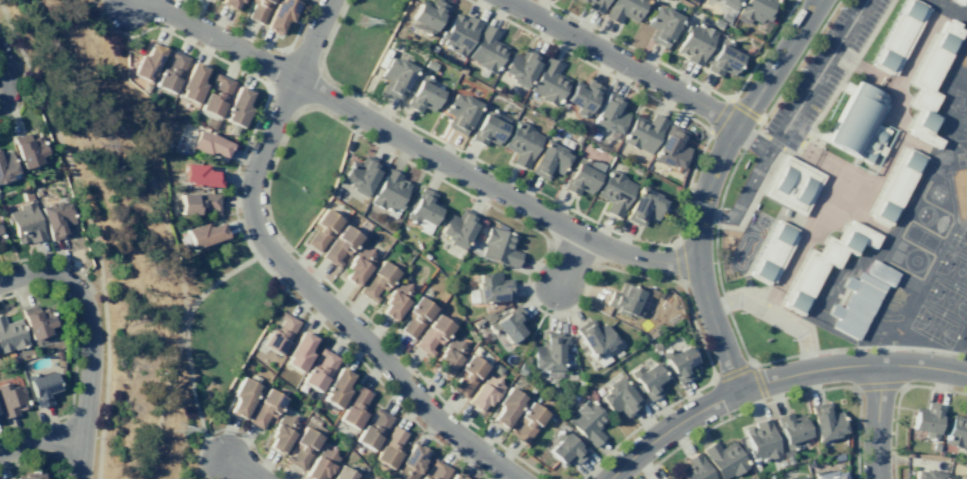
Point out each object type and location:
building: (584, 0)
building: (664, 0)
road: (795, 0)
building: (966, 0)
building: (693, 1)
building: (957, 2)
building: (229, 3)
building: (728, 3)
building: (596, 5)
building: (756, 9)
building: (258, 10)
building: (624, 10)
building: (280, 14)
building: (426, 16)
building: (724, 17)
power tower: (360, 20)
building: (717, 23)
building: (662, 25)
building: (458, 34)
building: (899, 36)
park: (360, 39)
road: (256, 40)
building: (695, 43)
building: (486, 50)
building: (724, 59)
road: (622, 61)
building: (147, 62)
road: (15, 63)
building: (429, 64)
building: (521, 66)
building: (171, 71)
building: (395, 76)
road: (687, 76)
road: (817, 76)
road: (7, 81)
building: (548, 82)
building: (928, 82)
building: (192, 83)
building: (424, 94)
building: (216, 95)
building: (583, 97)
building: (237, 107)
building: (460, 111)
road: (745, 111)
building: (609, 114)
road: (721, 117)
building: (856, 124)
building: (488, 127)
building: (643, 132)
building: (208, 143)
road: (407, 143)
building: (521, 143)
road: (775, 143)
building: (671, 146)
building: (29, 150)
road: (275, 157)
building: (549, 159)
building: (7, 166)
park: (304, 173)
building: (361, 174)
building: (199, 175)
building: (582, 175)
road: (751, 181)
road: (706, 184)
building: (792, 184)
building: (894, 185)
building: (335, 192)
building: (389, 192)
building: (614, 192)
building: (197, 203)
building: (643, 206)
building: (422, 210)
building: (56, 219)
building: (25, 223)
road: (163, 225)
road: (238, 226)
building: (458, 227)
building: (321, 229)
road: (93, 231)
building: (204, 234)
building: (0, 238)
road: (633, 238)
building: (339, 245)
building: (499, 246)
building: (772, 253)
road: (569, 261)
building: (822, 263)
road: (679, 264)
building: (357, 266)
road: (293, 273)
building: (879, 273)
road: (717, 276)
building: (376, 281)
building: (493, 287)
road: (583, 299)
building: (396, 300)
building: (624, 300)
building: (855, 304)
building: (415, 316)
road: (773, 316)
building: (38, 321)
building: (476, 323)
building: (505, 323)
road: (184, 331)
building: (279, 334)
building: (12, 335)
building: (431, 335)
building: (594, 337)
road: (91, 341)
building: (298, 351)
park: (966, 352)
building: (58, 354)
building: (549, 354)
road: (75, 357)
building: (448, 357)
road: (709, 359)
building: (678, 363)
building: (521, 368)
building: (319, 371)
road: (734, 373)
building: (466, 376)
road: (774, 378)
building: (648, 381)
road: (760, 384)
road: (878, 385)
building: (336, 387)
building: (44, 388)
building: (484, 393)
building: (242, 397)
building: (619, 398)
road: (781, 398)
building: (12, 400)
road: (897, 400)
building: (354, 407)
building: (507, 407)
building: (264, 408)
building: (928, 420)
building: (826, 421)
road: (876, 421)
building: (0, 422)
building: (587, 422)
building: (526, 423)
power tower: (181, 429)
building: (373, 429)
building: (791, 429)
road: (231, 430)
building: (281, 432)
building: (957, 432)
road: (40, 439)
building: (762, 440)
building: (935, 446)
building: (302, 448)
building: (389, 448)
building: (565, 448)
road: (40, 456)
building: (788, 457)
building: (838, 457)
building: (724, 459)
building: (410, 462)
building: (320, 464)
road: (241, 466)
building: (694, 469)
building: (436, 470)
building: (342, 473)
building: (929, 474)
building: (35, 475)
building: (829, 475)
building: (455, 476)
building: (791, 477)
building: (803, 477)
building: (662, 478)

